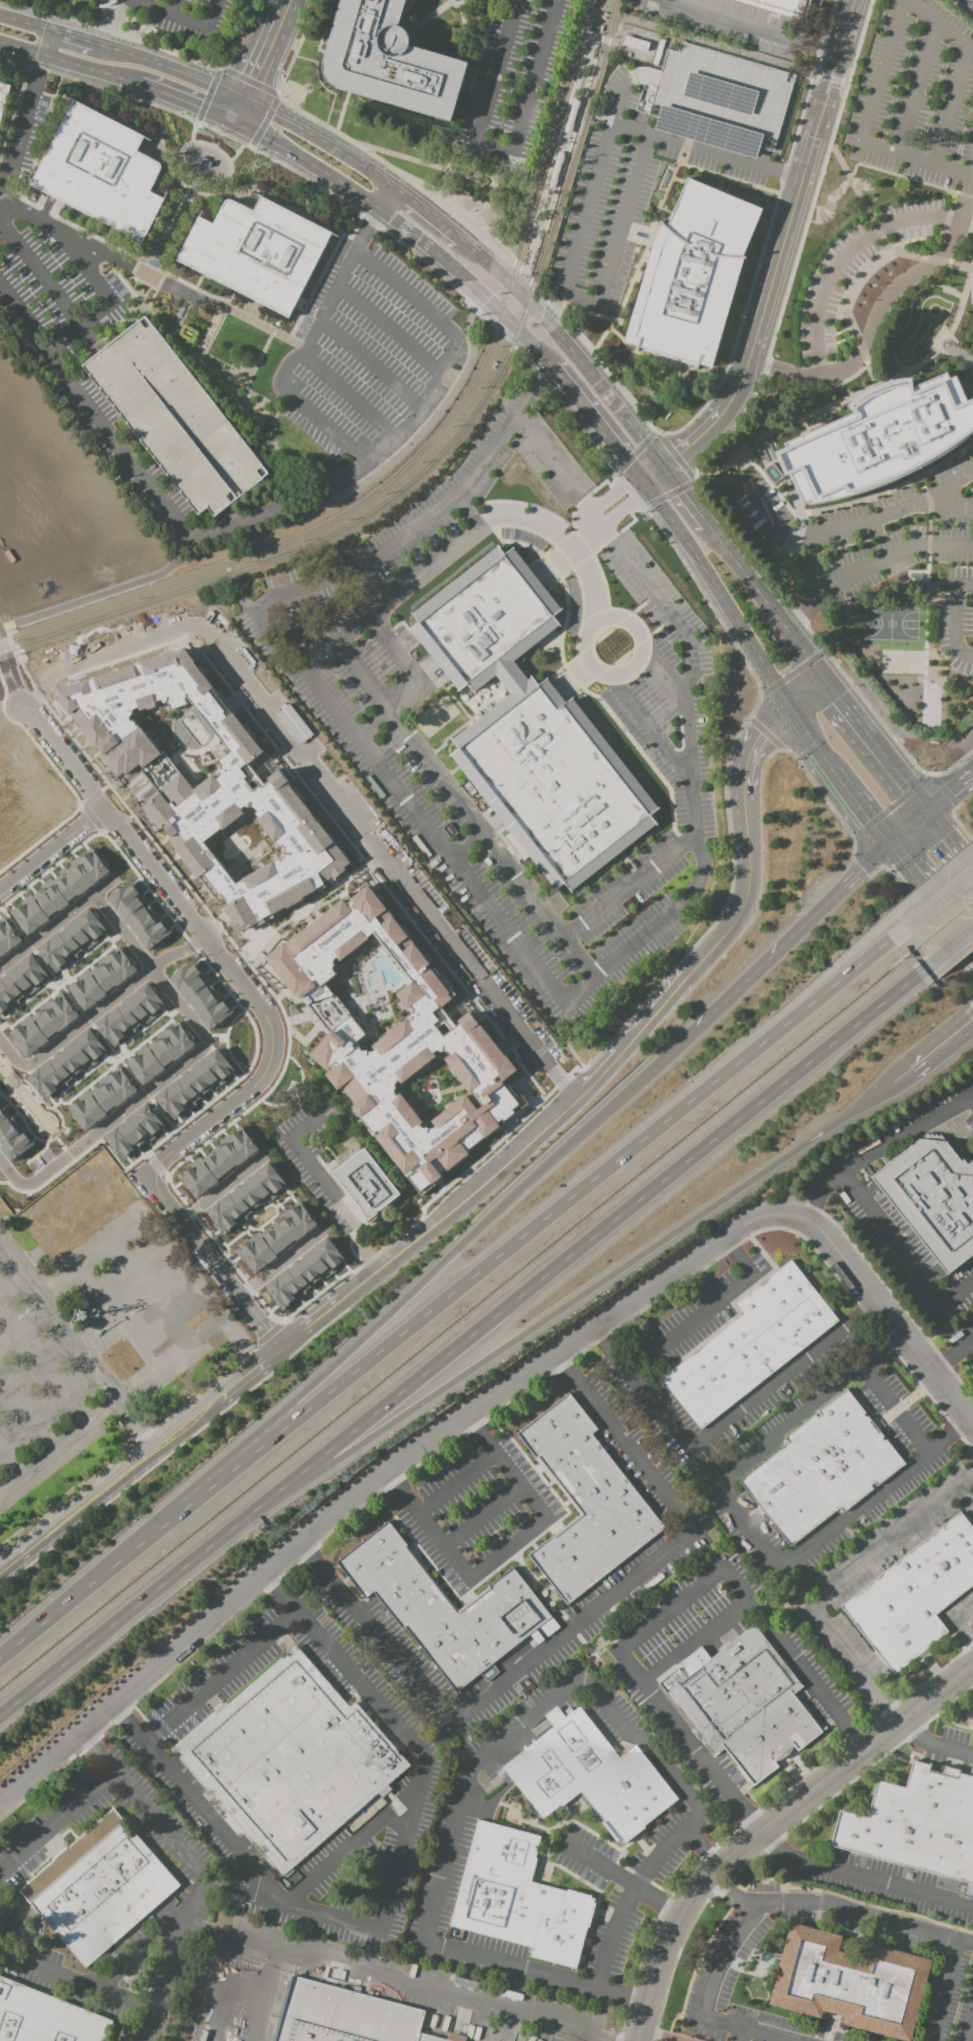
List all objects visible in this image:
road: (176, 7)
building: (782, 7)
road: (185, 18)
road: (751, 26)
road: (941, 26)
road: (128, 27)
road: (22, 36)
road: (701, 40)
road: (68, 42)
road: (266, 48)
road: (594, 49)
building: (389, 61)
railway: (598, 61)
road: (86, 67)
road: (168, 70)
road: (249, 81)
parking lot: (517, 81)
road: (526, 87)
road: (917, 89)
road: (208, 95)
road: (807, 95)
traffic signals: (246, 96)
building: (714, 99)
parking lot: (714, 99)
building: (4, 100)
road: (183, 102)
road: (952, 108)
road: (239, 109)
road: (342, 112)
building: (572, 115)
traffic signals: (232, 122)
road: (265, 122)
road: (548, 128)
road: (859, 129)
road: (22, 132)
road: (321, 143)
road: (707, 150)
road: (501, 151)
road: (413, 159)
road: (305, 165)
building: (556, 169)
building: (103, 174)
road: (475, 179)
road: (494, 187)
road: (452, 203)
road: (587, 203)
road: (793, 205)
road: (428, 217)
fountain: (641, 235)
road: (617, 237)
road: (800, 246)
road: (102, 252)
road: (535, 253)
building: (260, 254)
road: (844, 256)
road: (478, 257)
building: (692, 276)
road: (469, 282)
road: (752, 284)
road: (50, 288)
building: (971, 288)
parking lot: (61, 293)
road: (409, 295)
road: (104, 296)
road: (881, 307)
road: (619, 311)
road: (391, 328)
road: (603, 336)
traffic signals: (558, 338)
road: (734, 347)
parking lot: (364, 351)
road: (306, 352)
road: (864, 354)
road: (370, 362)
traffic signals: (546, 362)
road: (581, 366)
road: (350, 394)
building: (177, 420)
parking lot: (177, 420)
road: (595, 423)
building: (880, 438)
road: (694, 439)
railway: (430, 445)
railway: (443, 453)
road: (552, 461)
traffic signals: (659, 466)
road: (381, 467)
road: (649, 473)
traffic signals: (640, 481)
road: (613, 491)
road: (779, 496)
road: (684, 497)
road: (627, 506)
road: (950, 507)
crop: (64, 509)
road: (596, 517)
road: (228, 518)
road: (588, 518)
road: (869, 518)
road: (777, 522)
road: (594, 526)
road: (548, 528)
road: (205, 534)
road: (577, 535)
road: (872, 567)
road: (747, 576)
road: (717, 592)
road: (109, 598)
road: (388, 598)
road: (955, 615)
park: (892, 621)
road: (806, 652)
road: (825, 652)
road: (0, 653)
road: (407, 664)
road: (607, 674)
road: (662, 675)
road: (10, 678)
traffic signals: (827, 679)
road: (809, 693)
traffic signals: (791, 707)
building: (140, 708)
building: (293, 723)
road: (803, 725)
building: (532, 726)
road: (649, 728)
road: (867, 730)
road: (753, 746)
road: (824, 757)
road: (320, 777)
road: (950, 789)
road: (906, 792)
road: (916, 794)
road: (862, 806)
traffic signals: (927, 807)
road: (465, 808)
road: (908, 824)
road: (747, 831)
road: (950, 836)
road: (464, 841)
traffic signals: (890, 842)
road: (51, 847)
building: (197, 855)
road: (900, 855)
road: (154, 873)
road: (465, 876)
road: (630, 885)
road: (839, 889)
building: (62, 891)
road: (941, 909)
road: (931, 911)
building: (138, 915)
road: (46, 928)
building: (7, 937)
building: (71, 940)
road: (946, 955)
road: (150, 967)
building: (103, 979)
building: (20, 981)
road: (737, 988)
building: (200, 995)
road: (111, 996)
building: (128, 1015)
building: (46, 1024)
road: (570, 1035)
building: (396, 1038)
road: (949, 1040)
road: (10, 1055)
building: (66, 1063)
road: (910, 1071)
building: (194, 1084)
road: (888, 1088)
road: (142, 1095)
road: (566, 1096)
road: (969, 1097)
building: (103, 1099)
road: (214, 1116)
building: (133, 1131)
building: (11, 1136)
road: (881, 1147)
building: (219, 1162)
road: (41, 1178)
building: (366, 1183)
road: (324, 1186)
road: (217, 1189)
building: (245, 1197)
building: (933, 1199)
road: (558, 1209)
road: (143, 1225)
road: (599, 1232)
road: (453, 1253)
road: (904, 1253)
road: (210, 1262)
road: (275, 1265)
building: (304, 1273)
road: (150, 1294)
road: (584, 1294)
road: (707, 1309)
road: (892, 1317)
road: (306, 1322)
road: (100, 1336)
road: (972, 1338)
road: (972, 1340)
road: (78, 1344)
building: (749, 1345)
road: (141, 1354)
road: (951, 1354)
road: (266, 1355)
road: (43, 1364)
road: (235, 1381)
road: (896, 1409)
road: (27, 1410)
road: (76, 1428)
road: (703, 1445)
road: (10, 1458)
building: (822, 1468)
road: (381, 1469)
road: (122, 1472)
road: (458, 1483)
road: (964, 1499)
building: (585, 1501)
road: (485, 1516)
road: (747, 1525)
road: (506, 1549)
road: (15, 1556)
road: (113, 1563)
road: (829, 1588)
building: (914, 1595)
road: (141, 1604)
building: (446, 1608)
road: (671, 1608)
road: (954, 1619)
road: (571, 1629)
road: (695, 1640)
road: (217, 1674)
building: (743, 1705)
road: (513, 1728)
road: (933, 1745)
building: (292, 1762)
building: (589, 1776)
road: (56, 1820)
building: (916, 1824)
road: (767, 1825)
road: (702, 1845)
road: (349, 1847)
road: (197, 1869)
road: (860, 1876)
road: (621, 1879)
building: (100, 1891)
building: (518, 1898)
road: (387, 1903)
road: (759, 1915)
road: (355, 1968)
road: (76, 1976)
building: (850, 1983)
road: (944, 1990)
road: (265, 1994)
building: (346, 2016)
building: (46, 2018)
road: (970, 2030)
road: (736, 2033)
road: (578, 2034)
road: (605, 2034)
road: (657, 2040)

